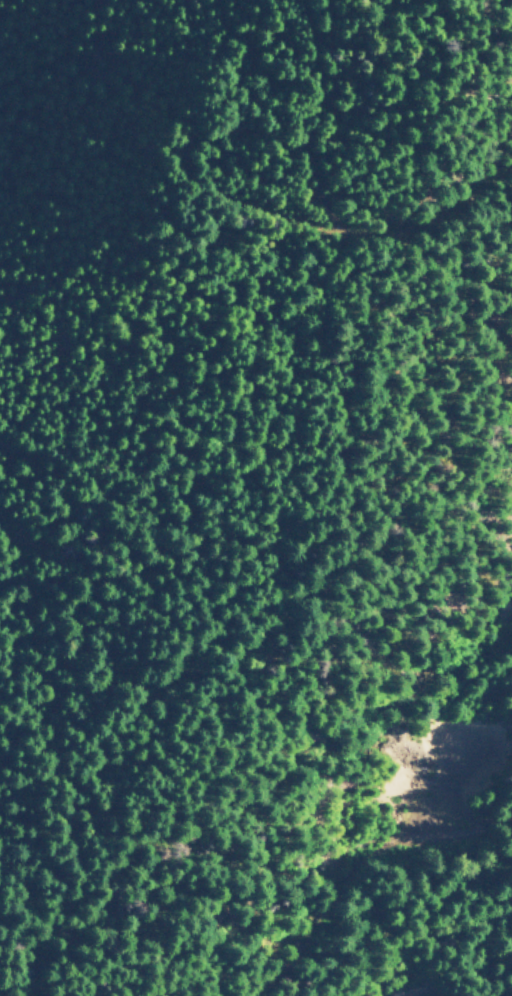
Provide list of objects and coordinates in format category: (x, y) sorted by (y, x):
road: (431, 192)
road: (359, 857)

